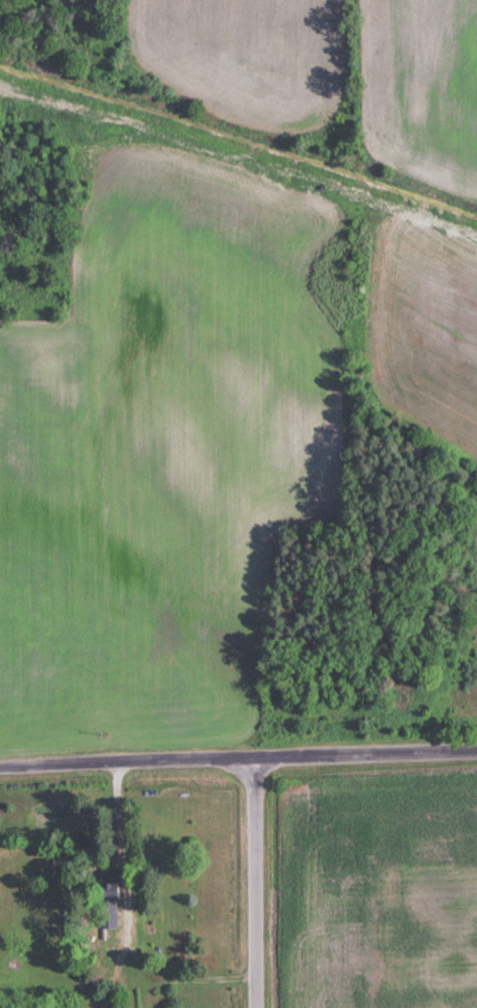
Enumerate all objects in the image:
road: (238, 759)
road: (117, 816)
road: (257, 883)
building: (102, 899)

